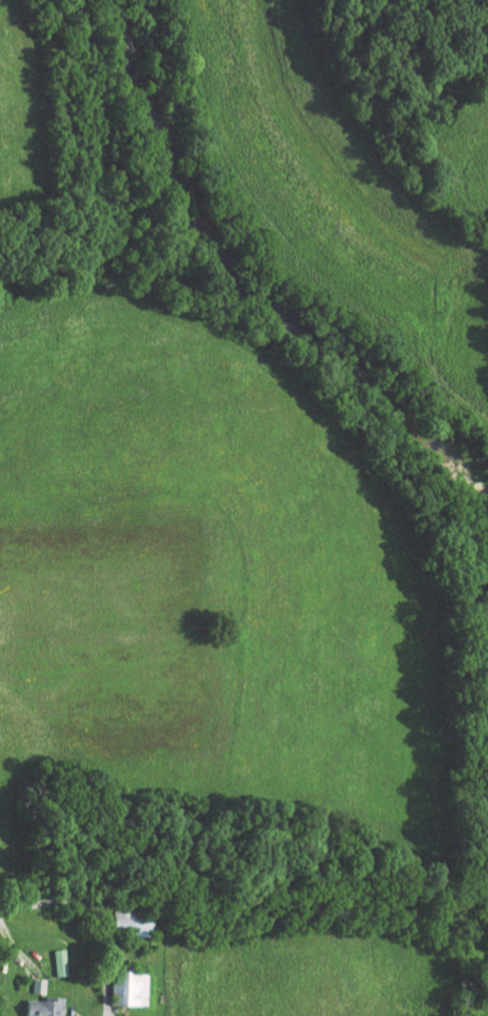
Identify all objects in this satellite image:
road: (89, 906)
building: (121, 922)
building: (56, 962)
building: (127, 988)
building: (39, 1007)

